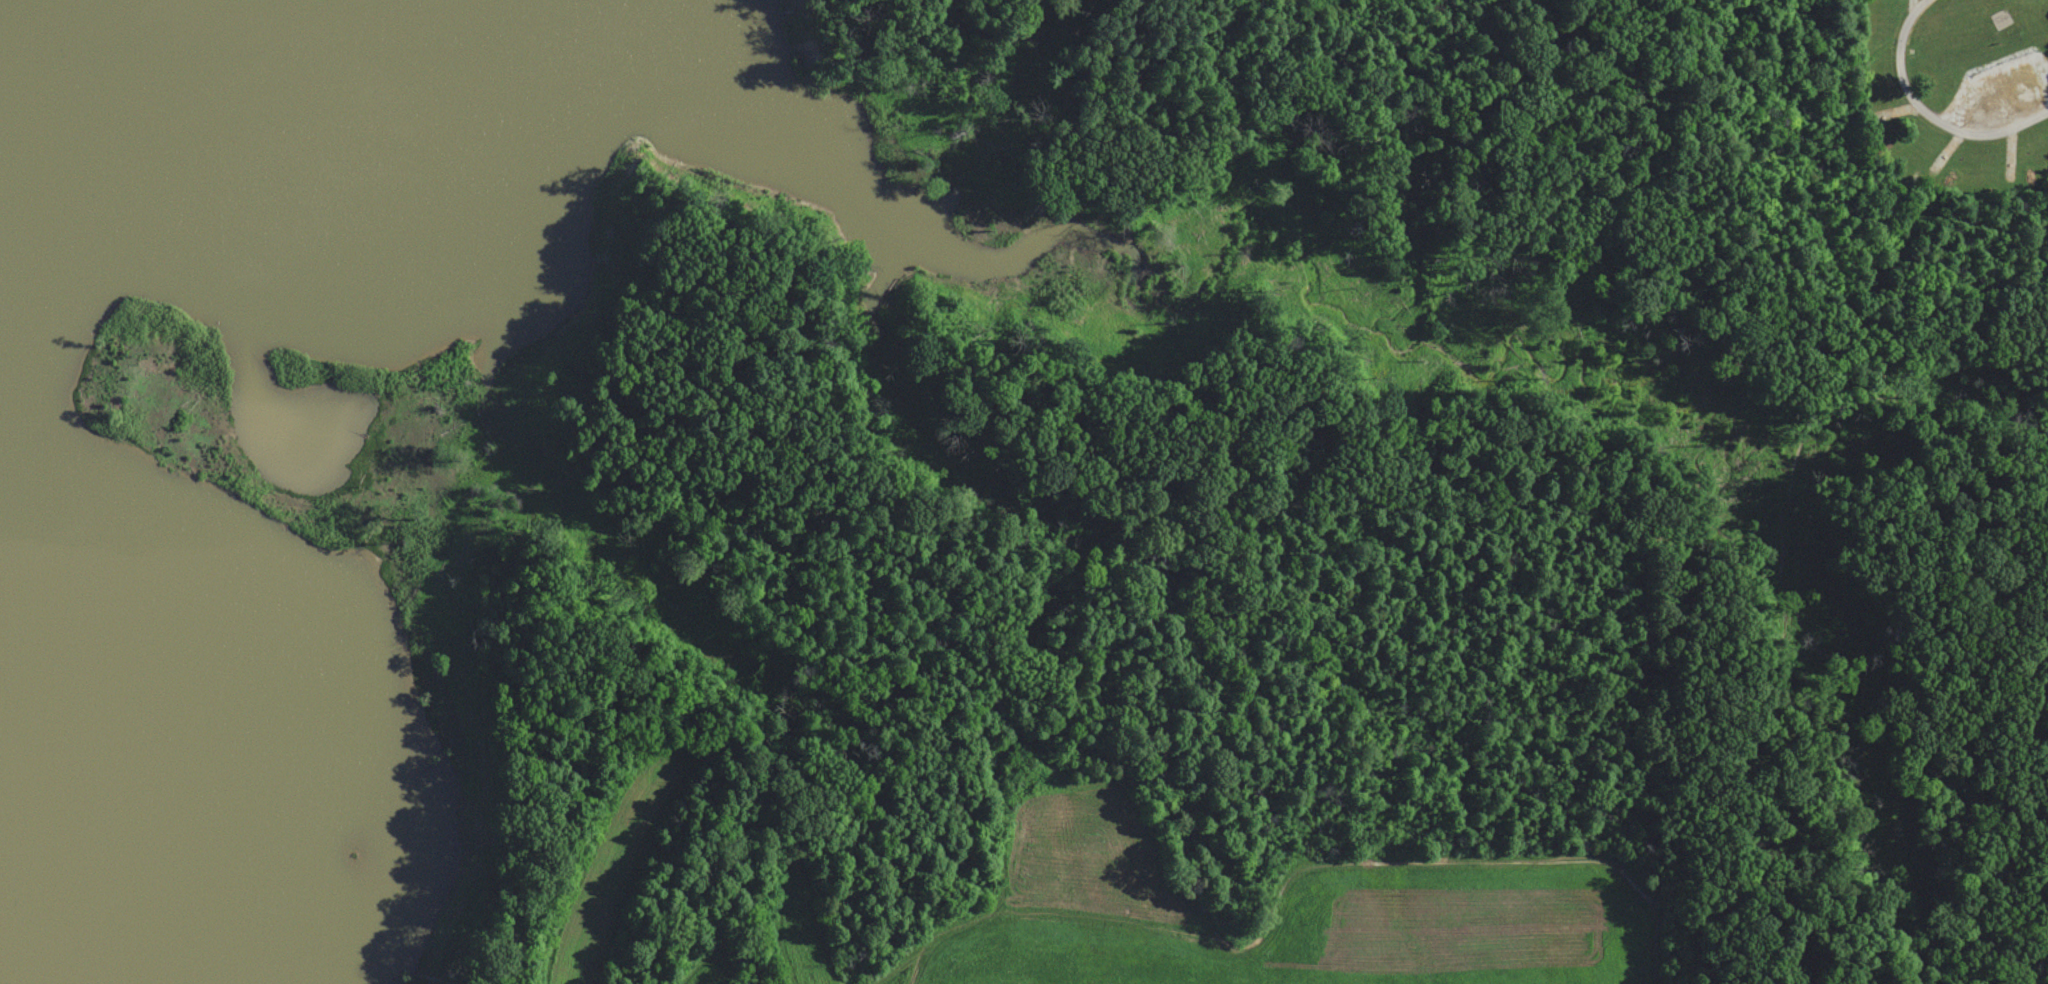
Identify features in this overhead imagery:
road: (1929, 109)
road: (1994, 185)

